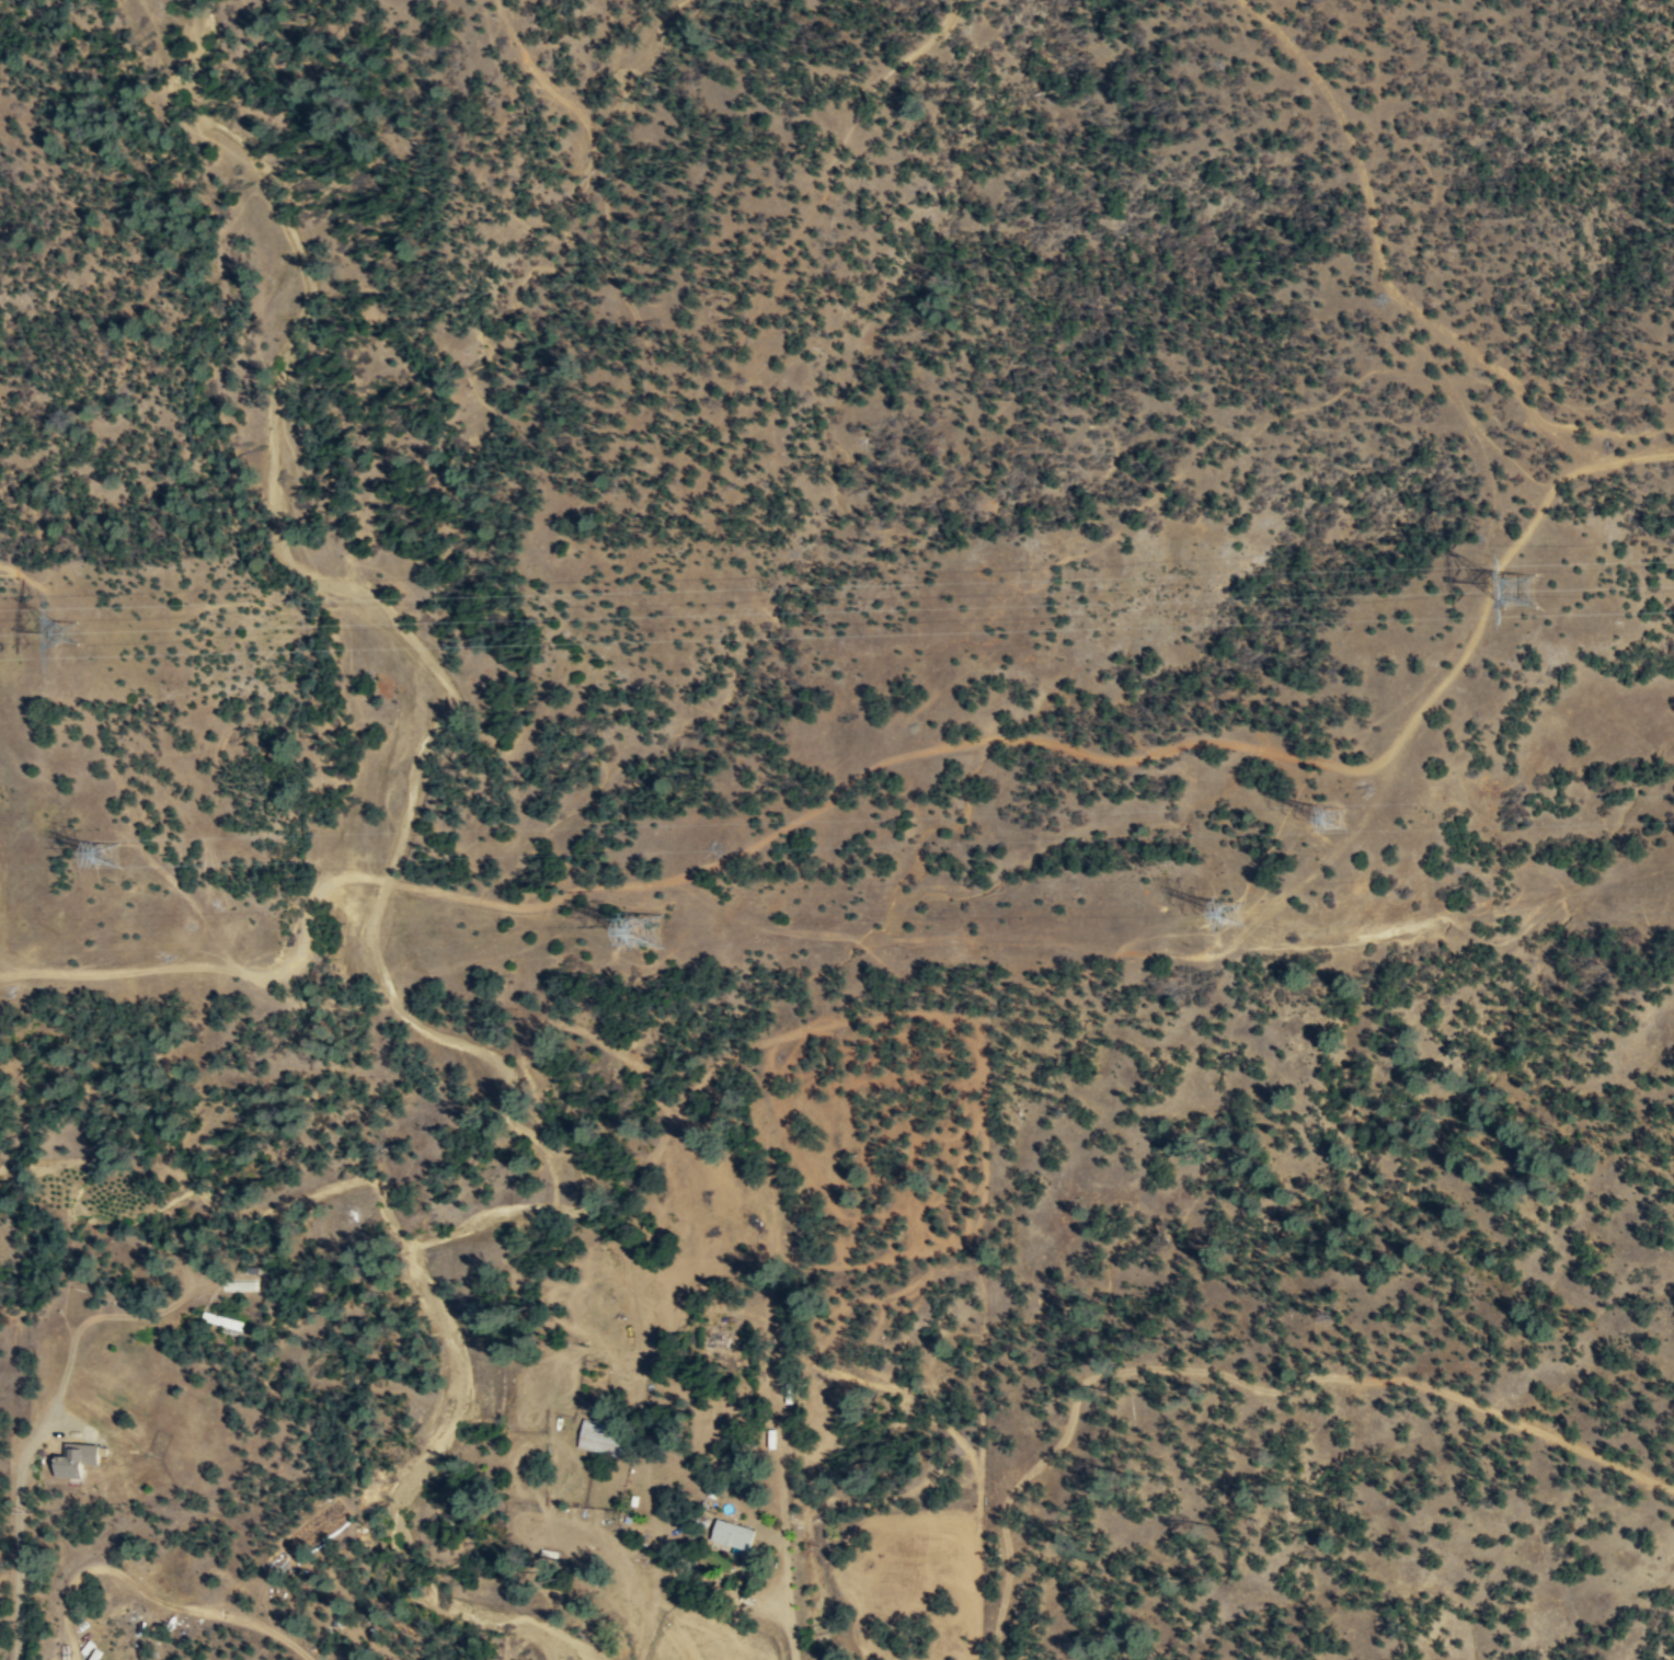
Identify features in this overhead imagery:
power tower: (1532, 605)
power tower: (74, 652)
road: (114, 764)
road: (876, 769)
power tower: (1330, 835)
power tower: (119, 871)
power tower: (1239, 924)
power tower: (647, 940)
building: (221, 1320)
building: (604, 1436)
building: (78, 1458)
building: (733, 1534)
road: (791, 1590)
road: (20, 1604)

